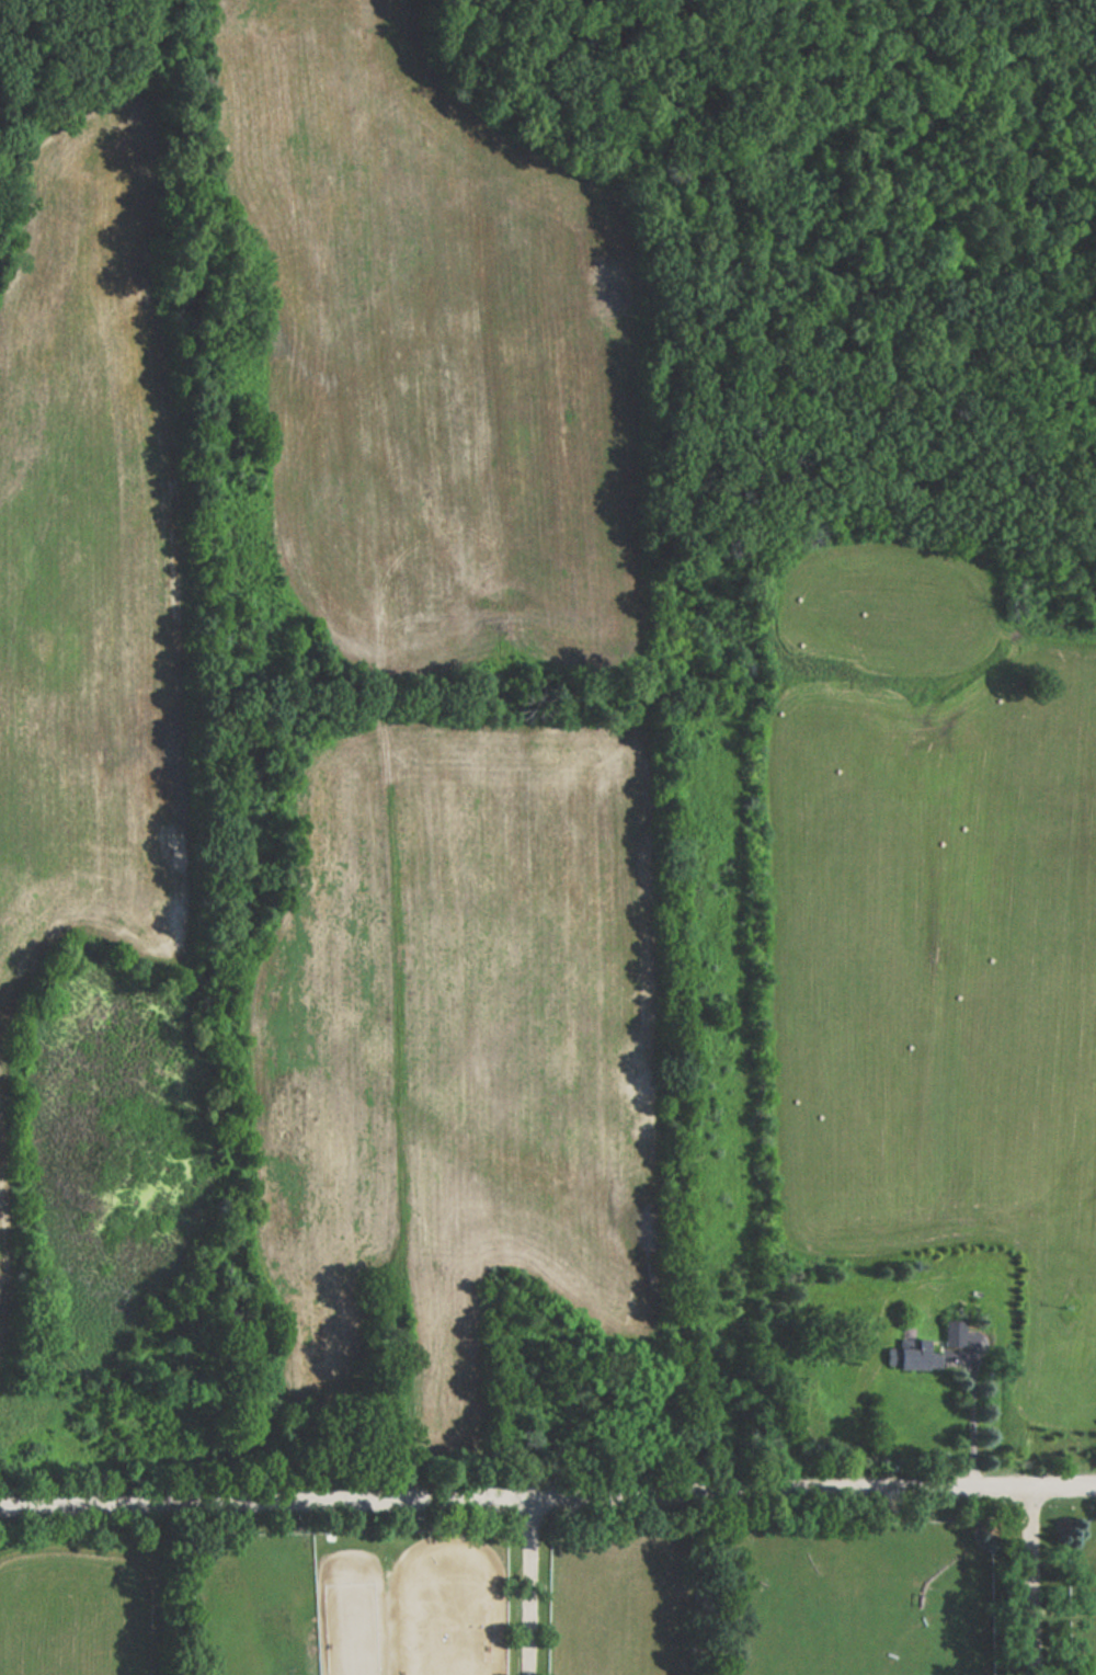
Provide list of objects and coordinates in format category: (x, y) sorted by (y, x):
building: (954, 1333)
building: (914, 1354)
road: (547, 1494)
road: (1028, 1580)
road: (529, 1584)

